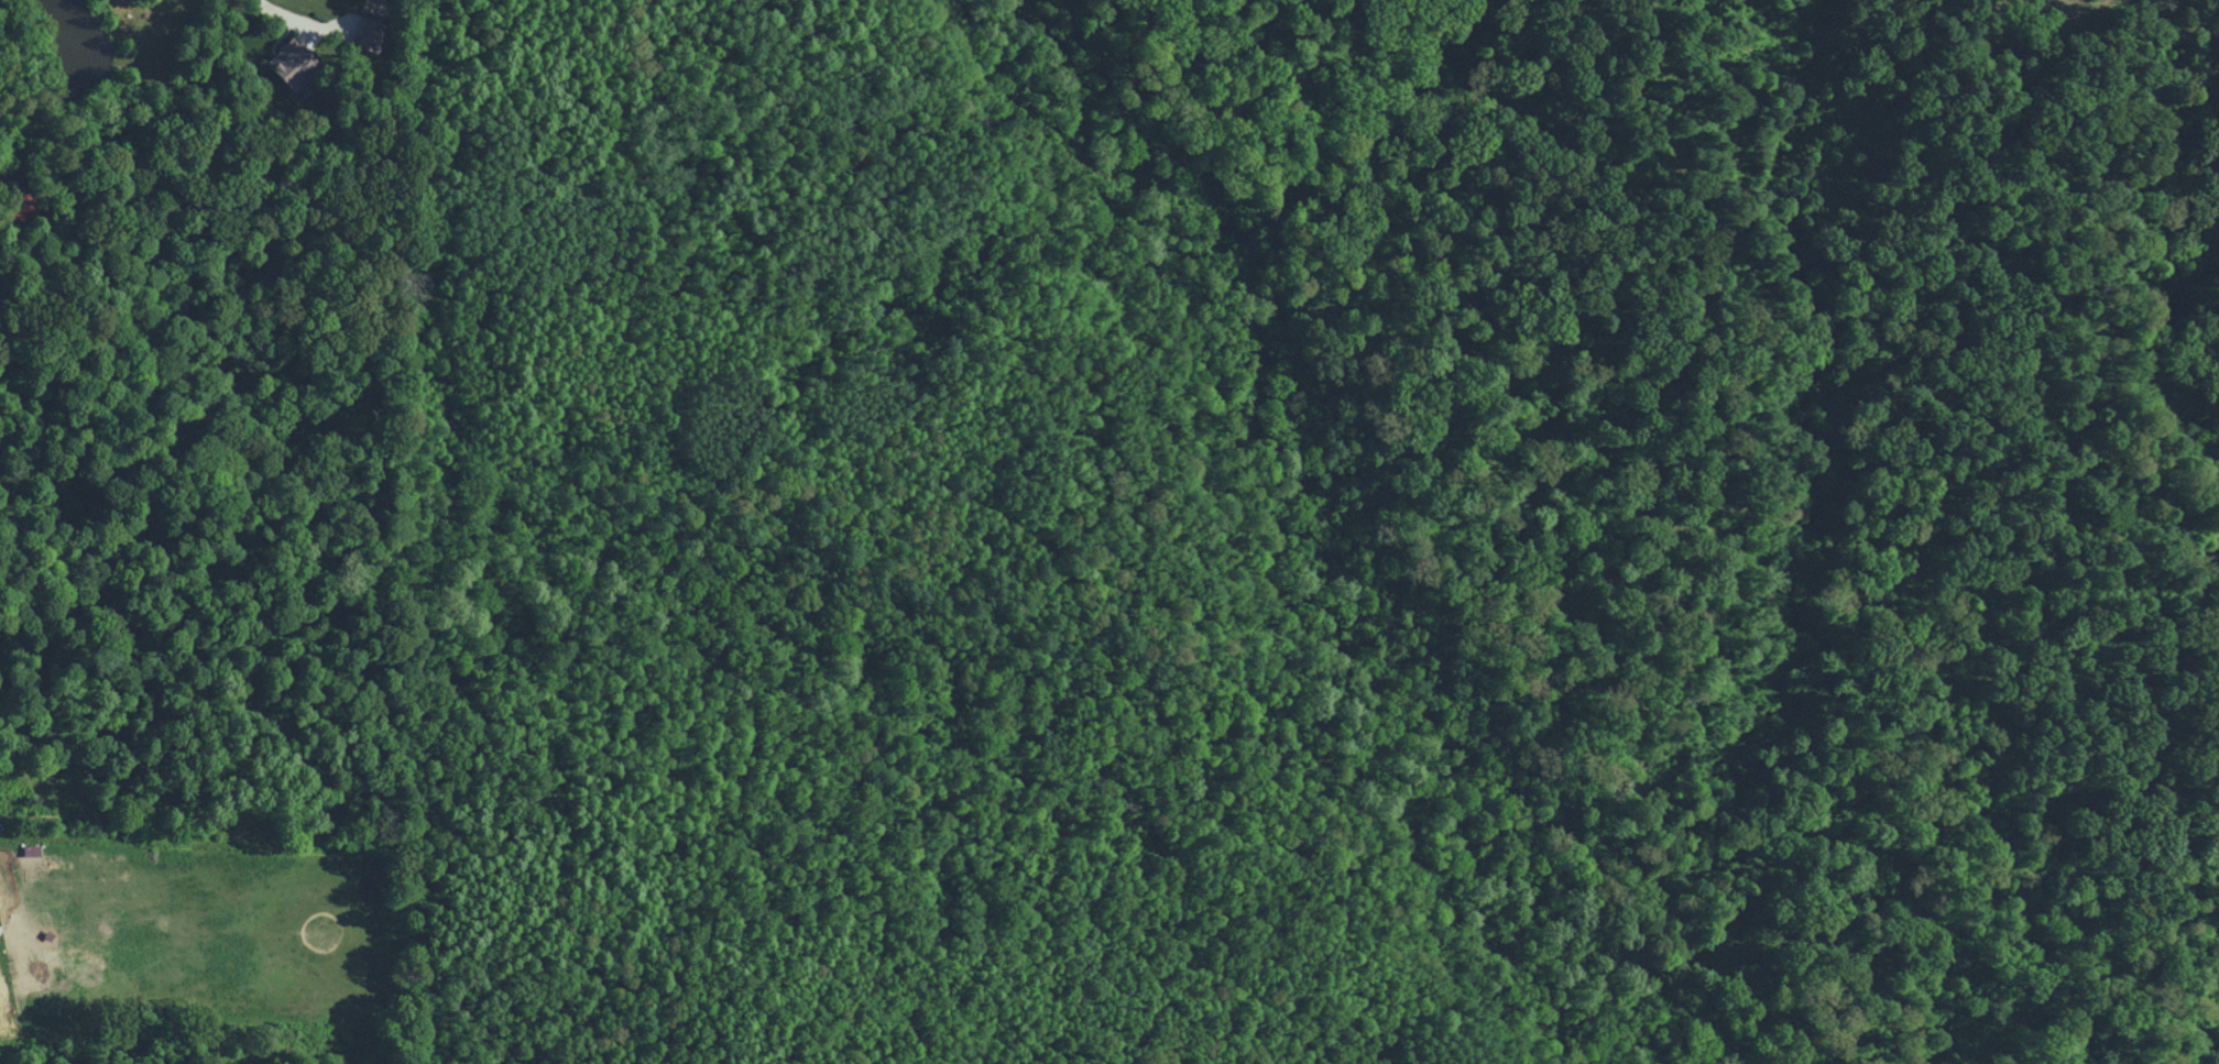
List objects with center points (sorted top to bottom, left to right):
road: (280, 17)
building: (365, 34)
building: (286, 64)

